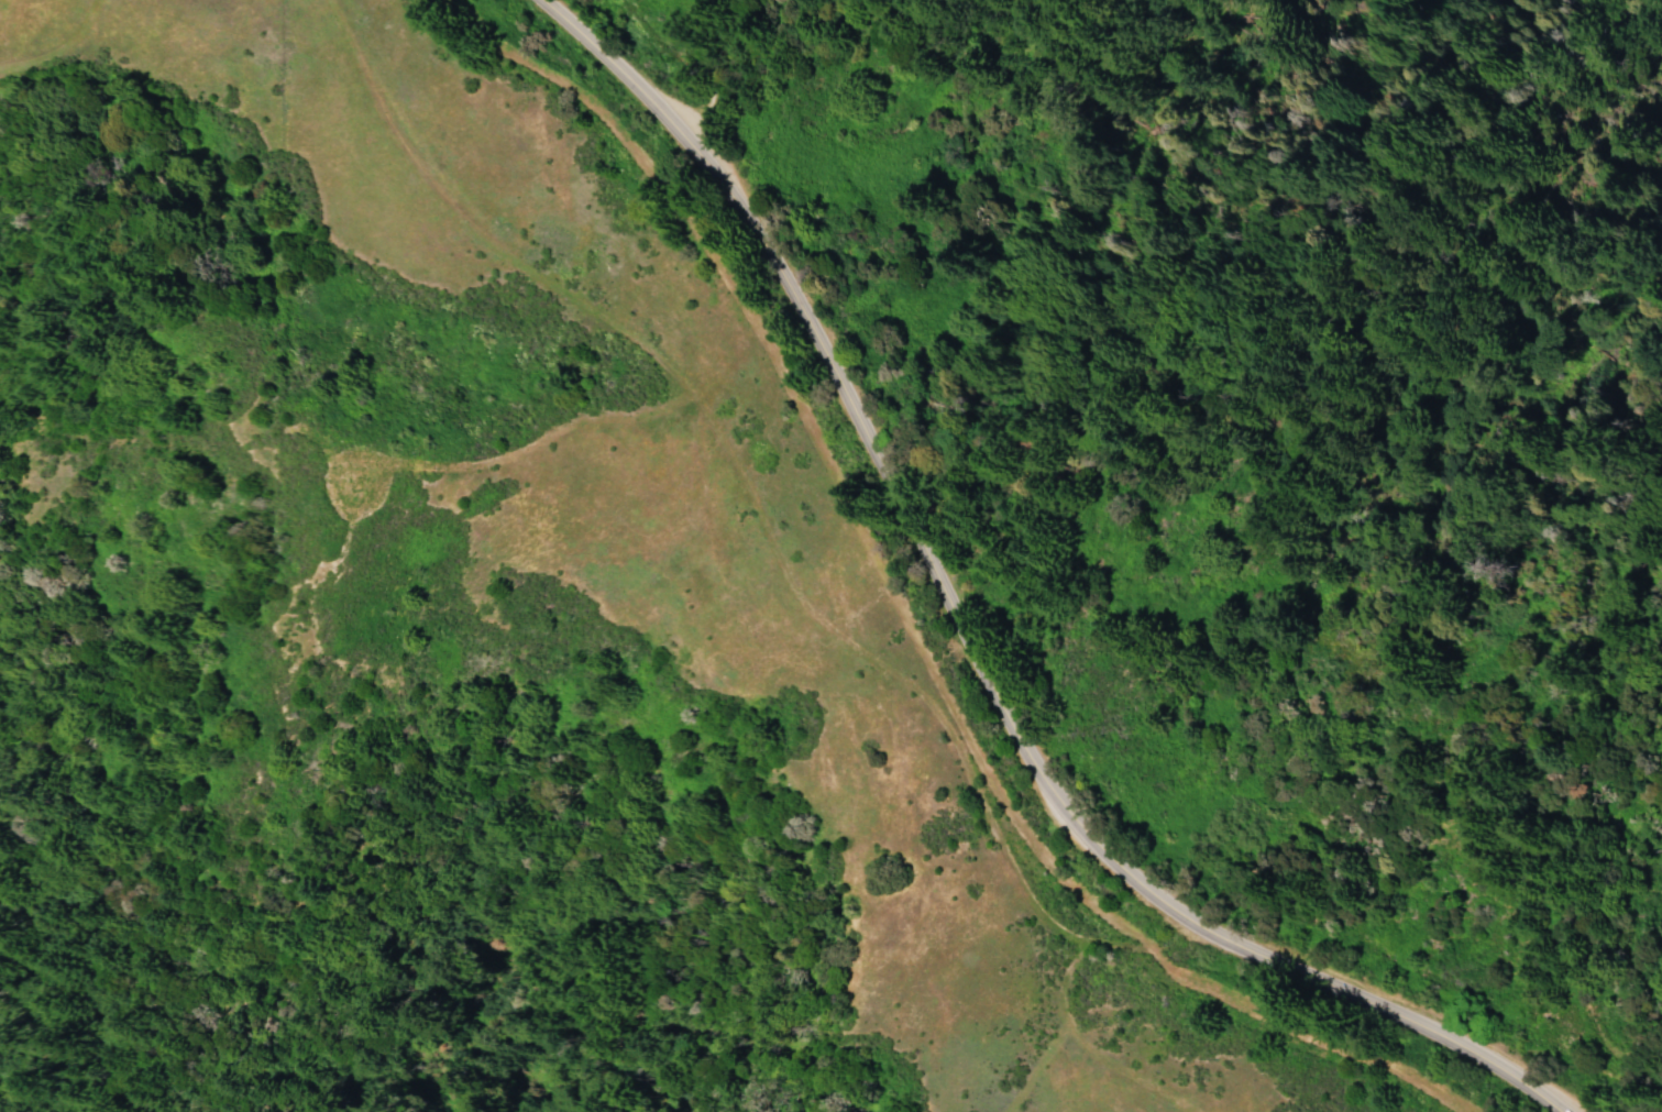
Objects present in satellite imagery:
road: (707, 69)
parking lot: (685, 120)
road: (967, 639)

